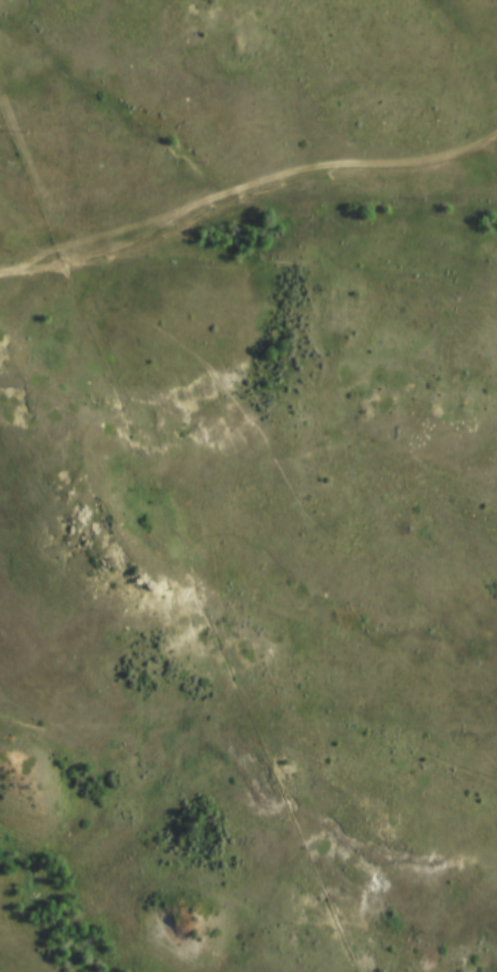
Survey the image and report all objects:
road: (245, 194)

